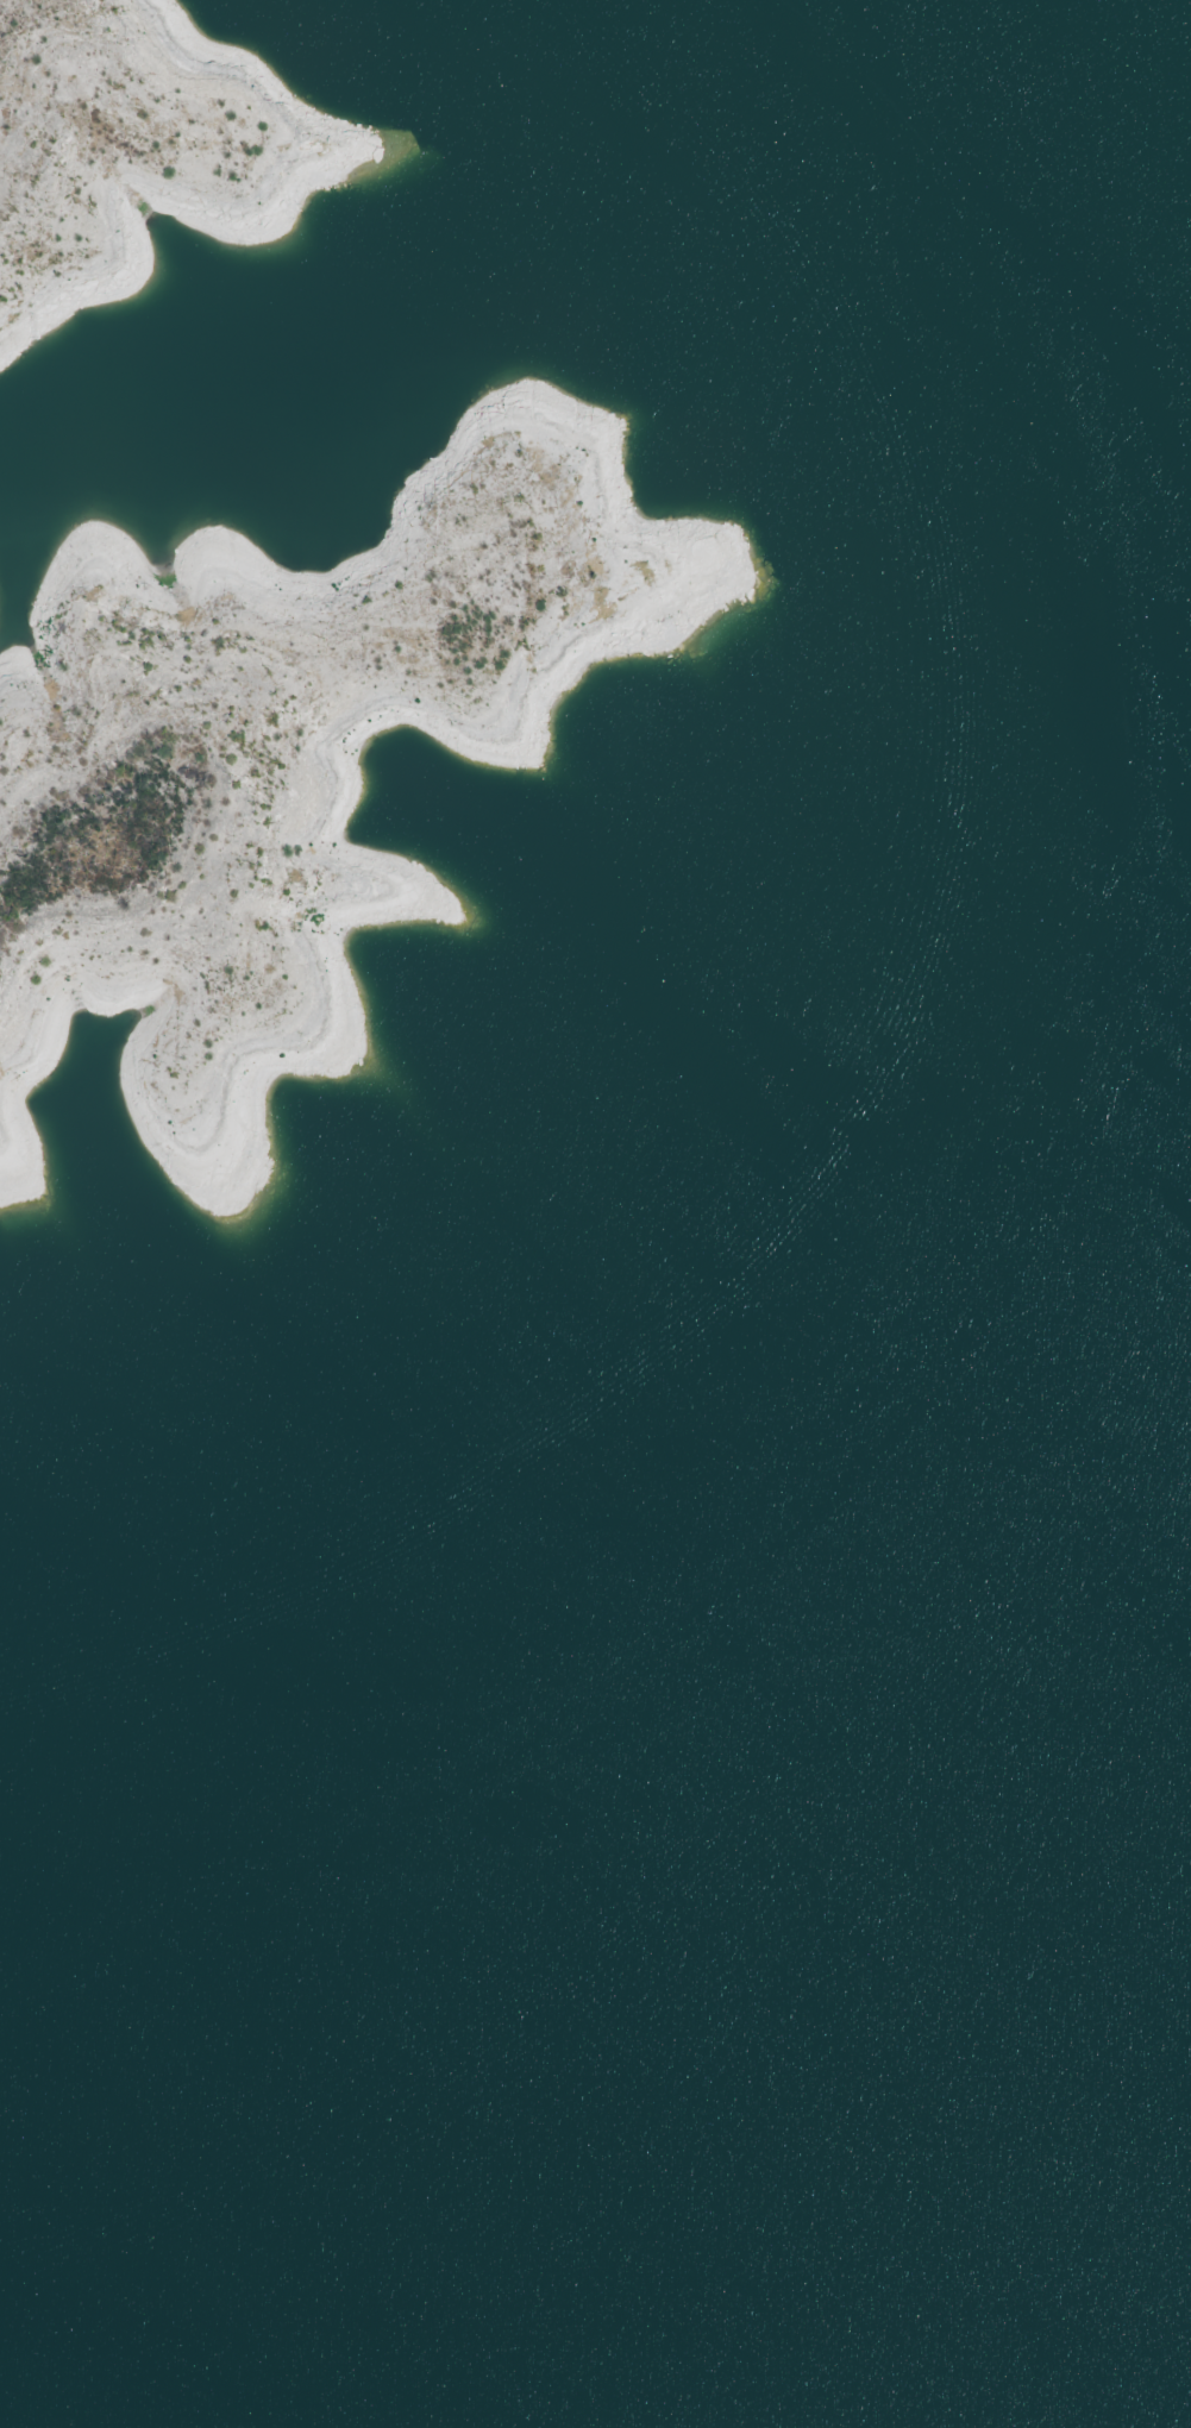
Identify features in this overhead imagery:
river: (601, 1902)

